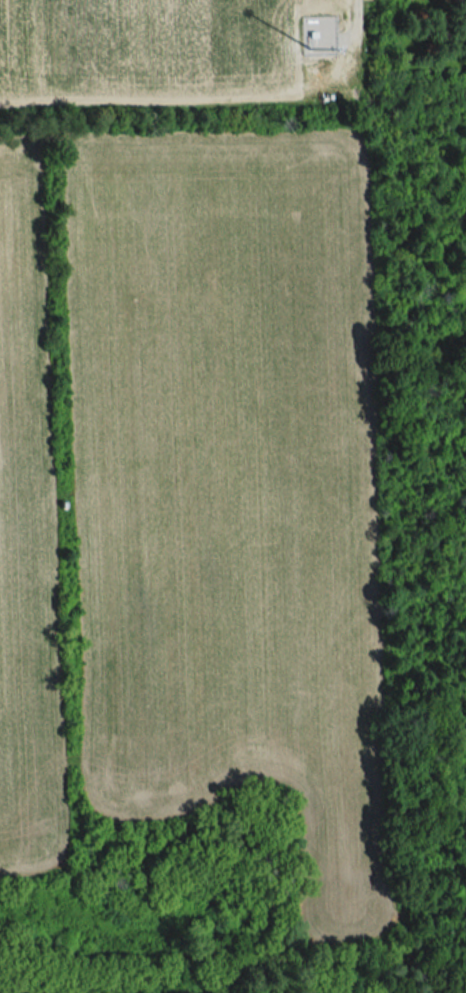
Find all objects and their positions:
crop: (151, 51)
crop: (228, 484)
crop: (27, 536)

